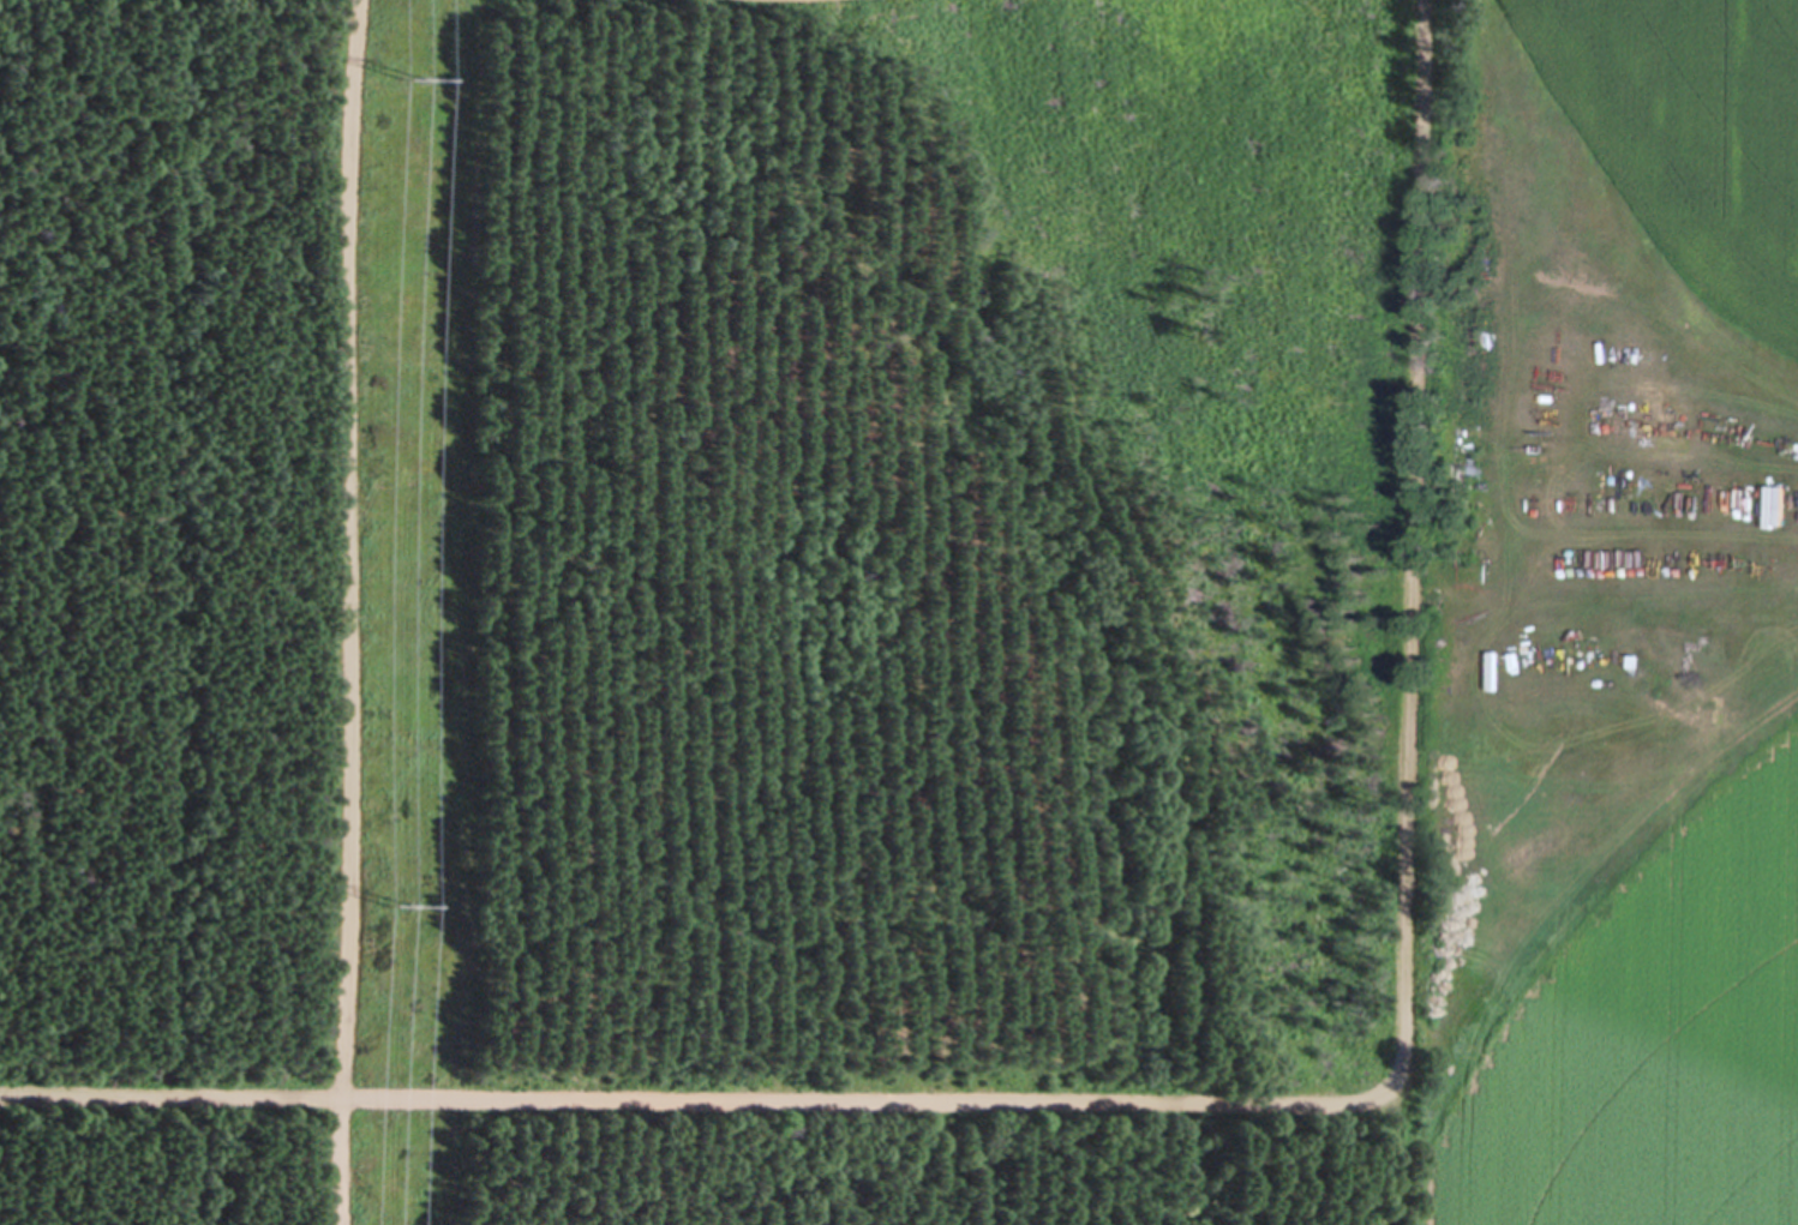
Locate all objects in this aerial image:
power tower: (409, 77)
road: (349, 612)
crop: (1604, 617)
power tower: (397, 907)
road: (1245, 1098)

